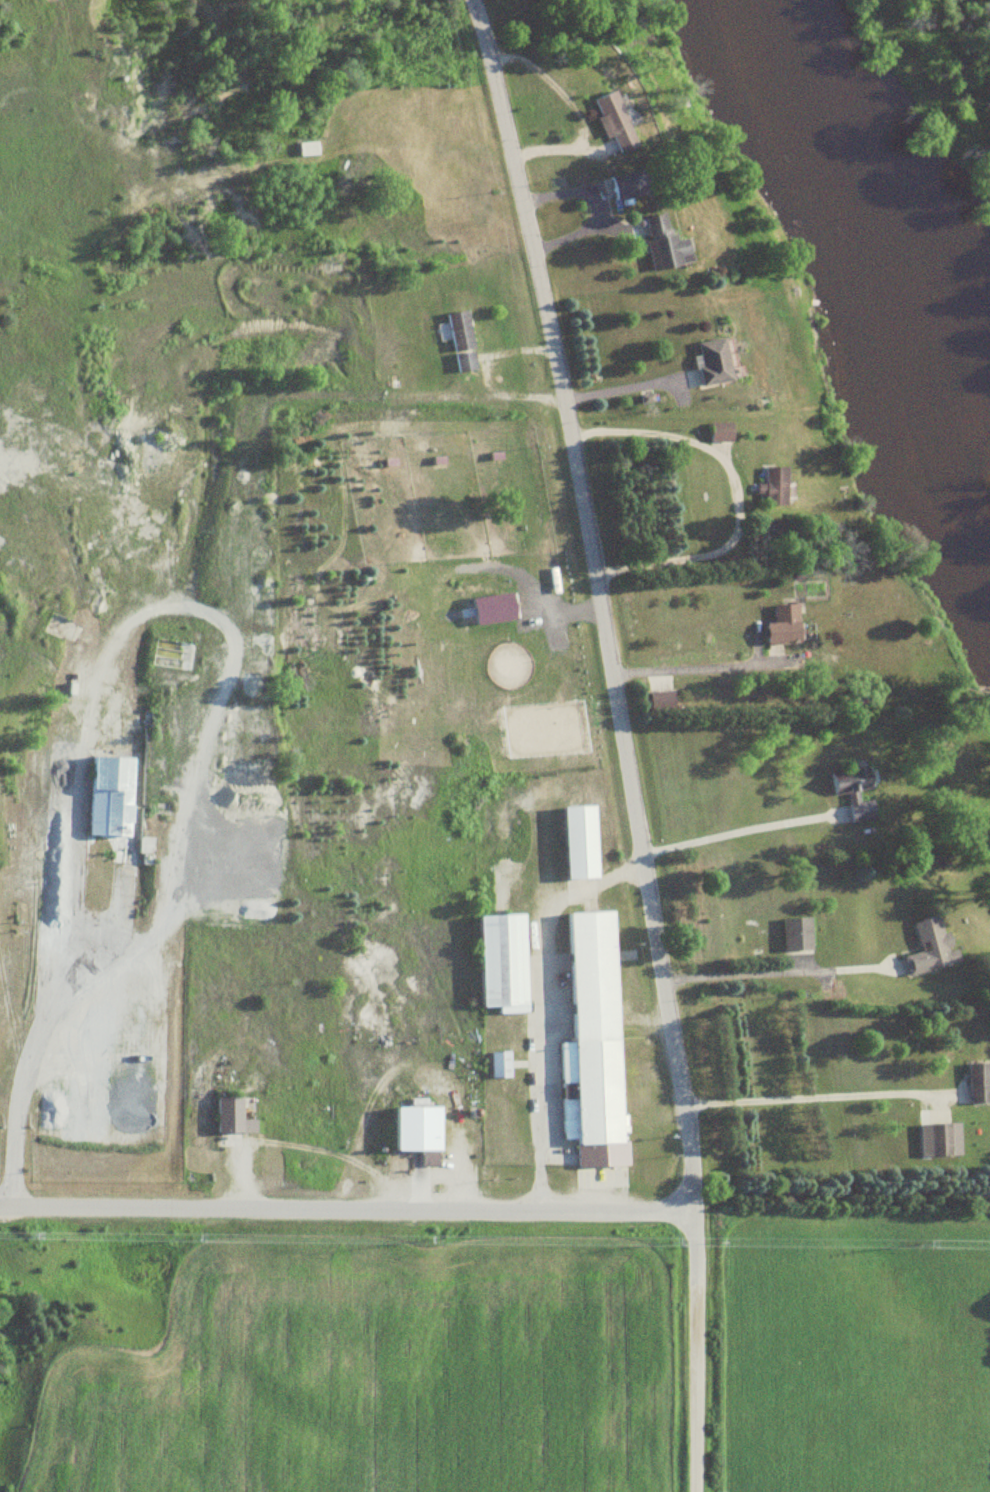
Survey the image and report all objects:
building: (613, 121)
building: (308, 149)
building: (629, 185)
river: (864, 207)
building: (663, 244)
building: (460, 332)
building: (713, 362)
building: (720, 433)
building: (774, 487)
building: (783, 625)
road: (605, 637)
building: (855, 792)
building: (108, 797)
building: (579, 843)
building: (796, 935)
building: (929, 947)
building: (592, 958)
building: (503, 964)
building: (500, 1066)
building: (978, 1084)
building: (593, 1102)
building: (232, 1118)
building: (418, 1134)
building: (939, 1141)
road: (344, 1201)
road: (690, 1387)

